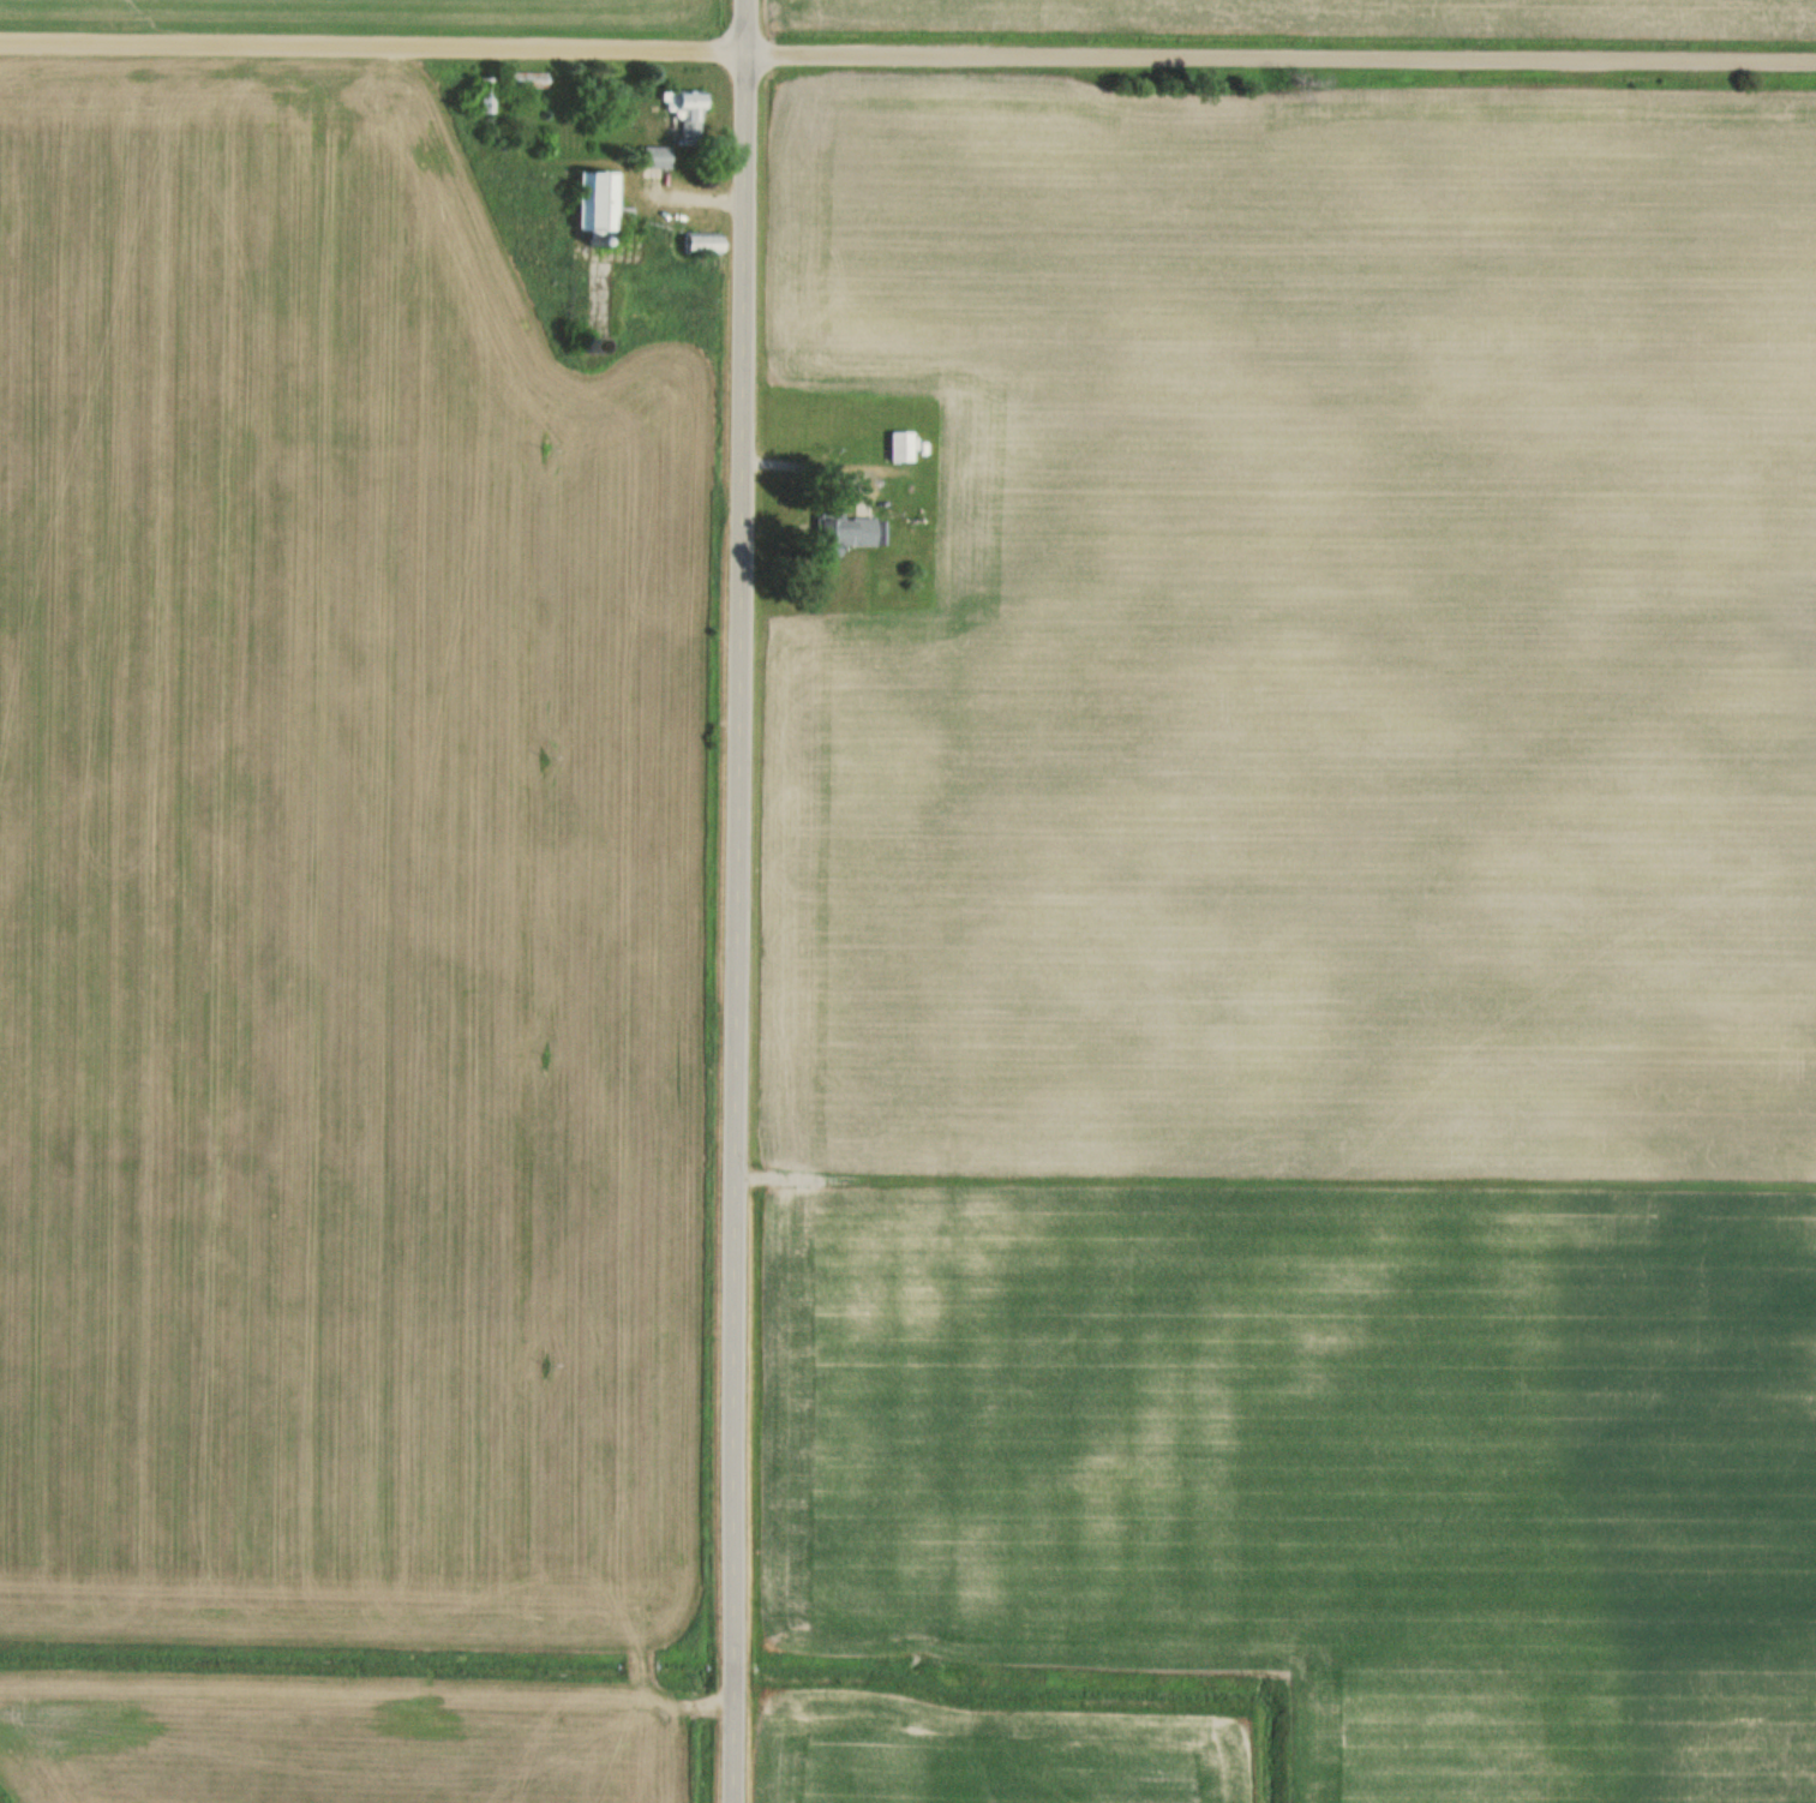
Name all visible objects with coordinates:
road: (907, 55)
building: (527, 78)
building: (481, 92)
building: (683, 112)
building: (653, 155)
building: (592, 200)
building: (699, 240)
building: (898, 443)
building: (841, 531)
road: (733, 900)

